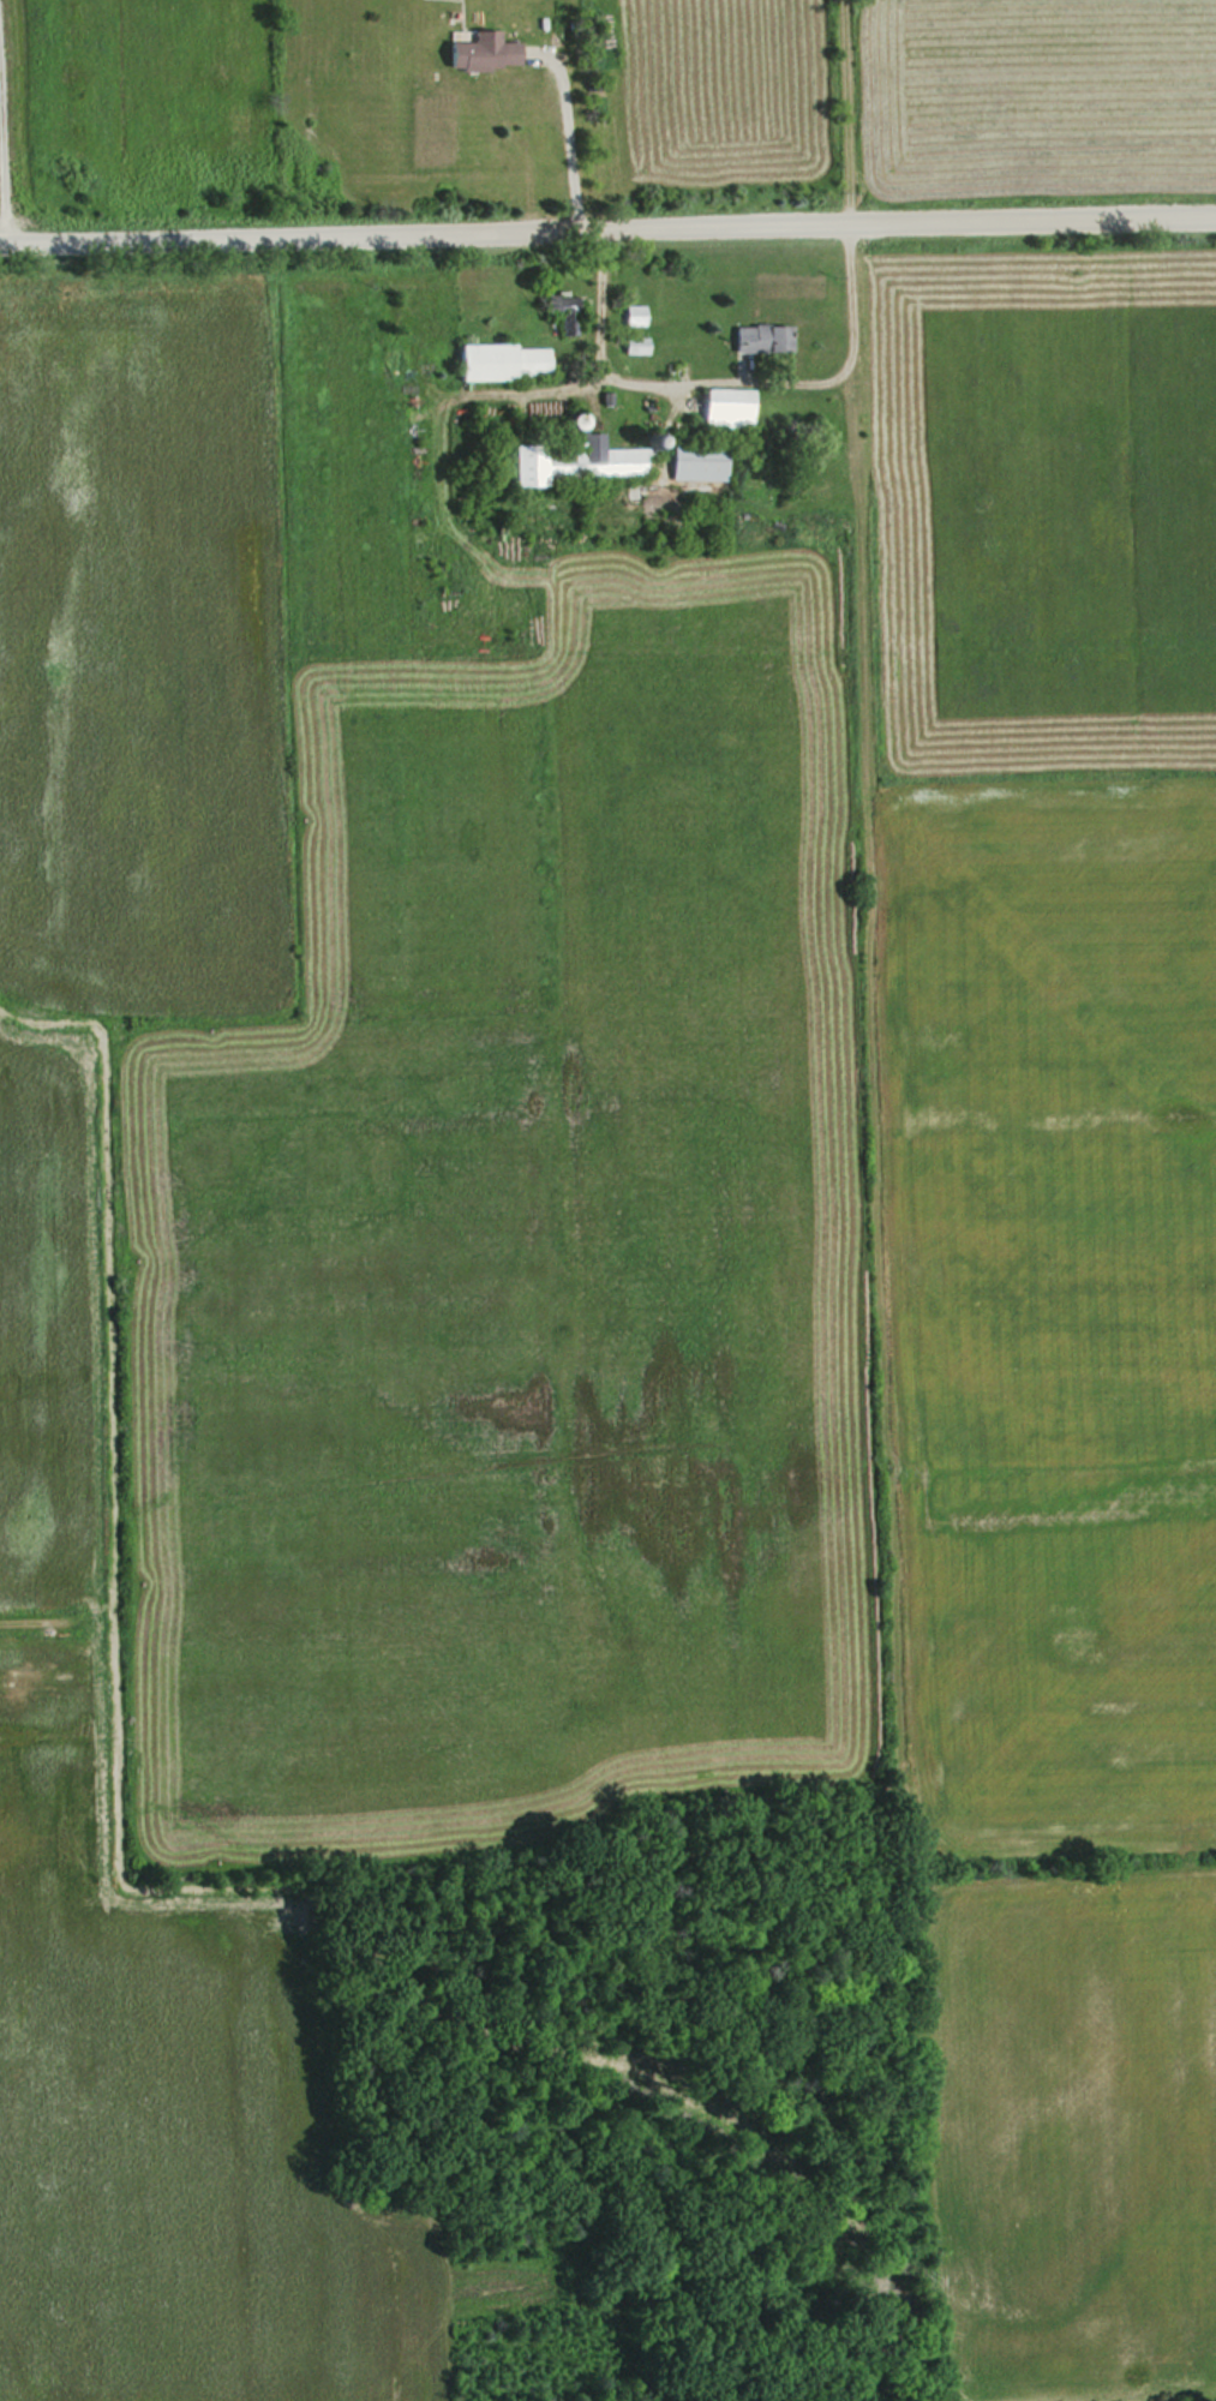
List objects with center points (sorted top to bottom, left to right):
building: (474, 52)
road: (565, 136)
road: (607, 227)
building: (555, 306)
building: (756, 337)
building: (497, 361)
road: (726, 376)
building: (724, 408)
building: (567, 460)
building: (694, 461)
building: (892, 804)

